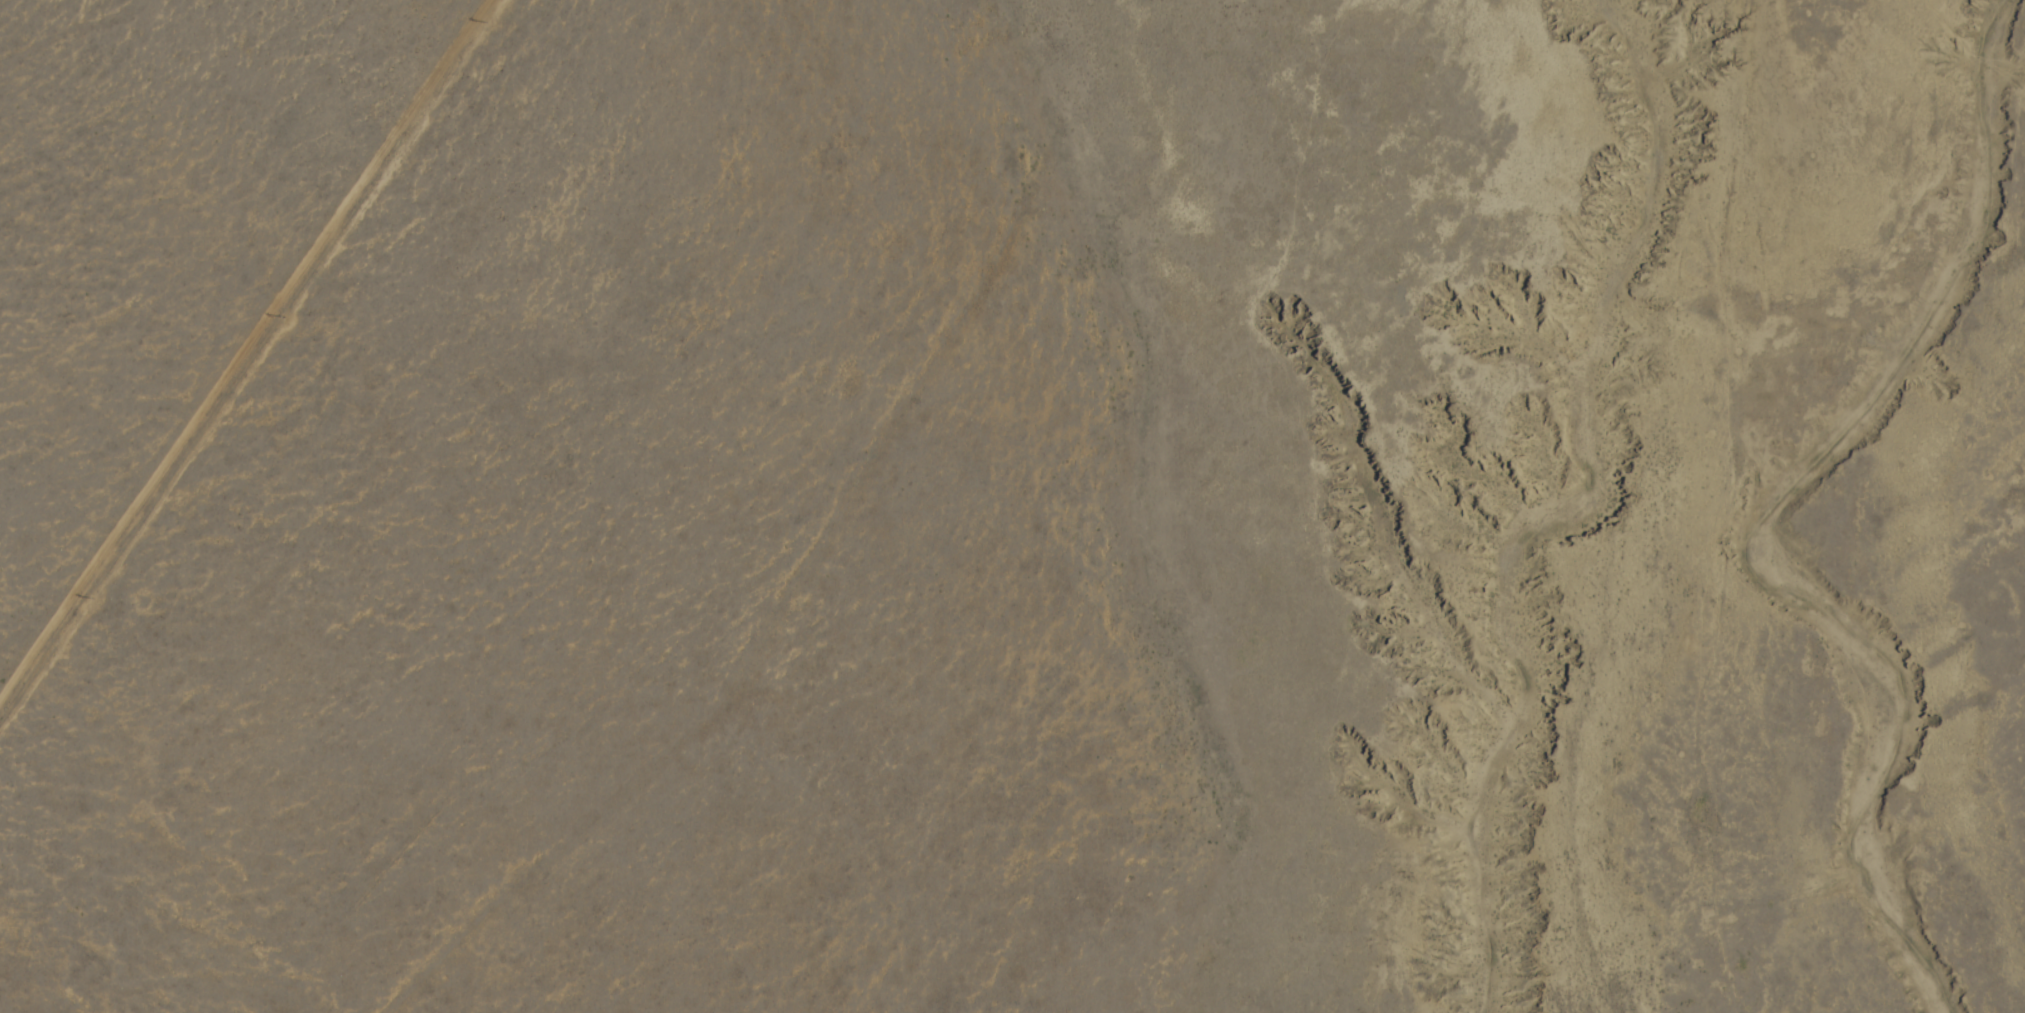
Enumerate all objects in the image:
road: (1877, 851)

